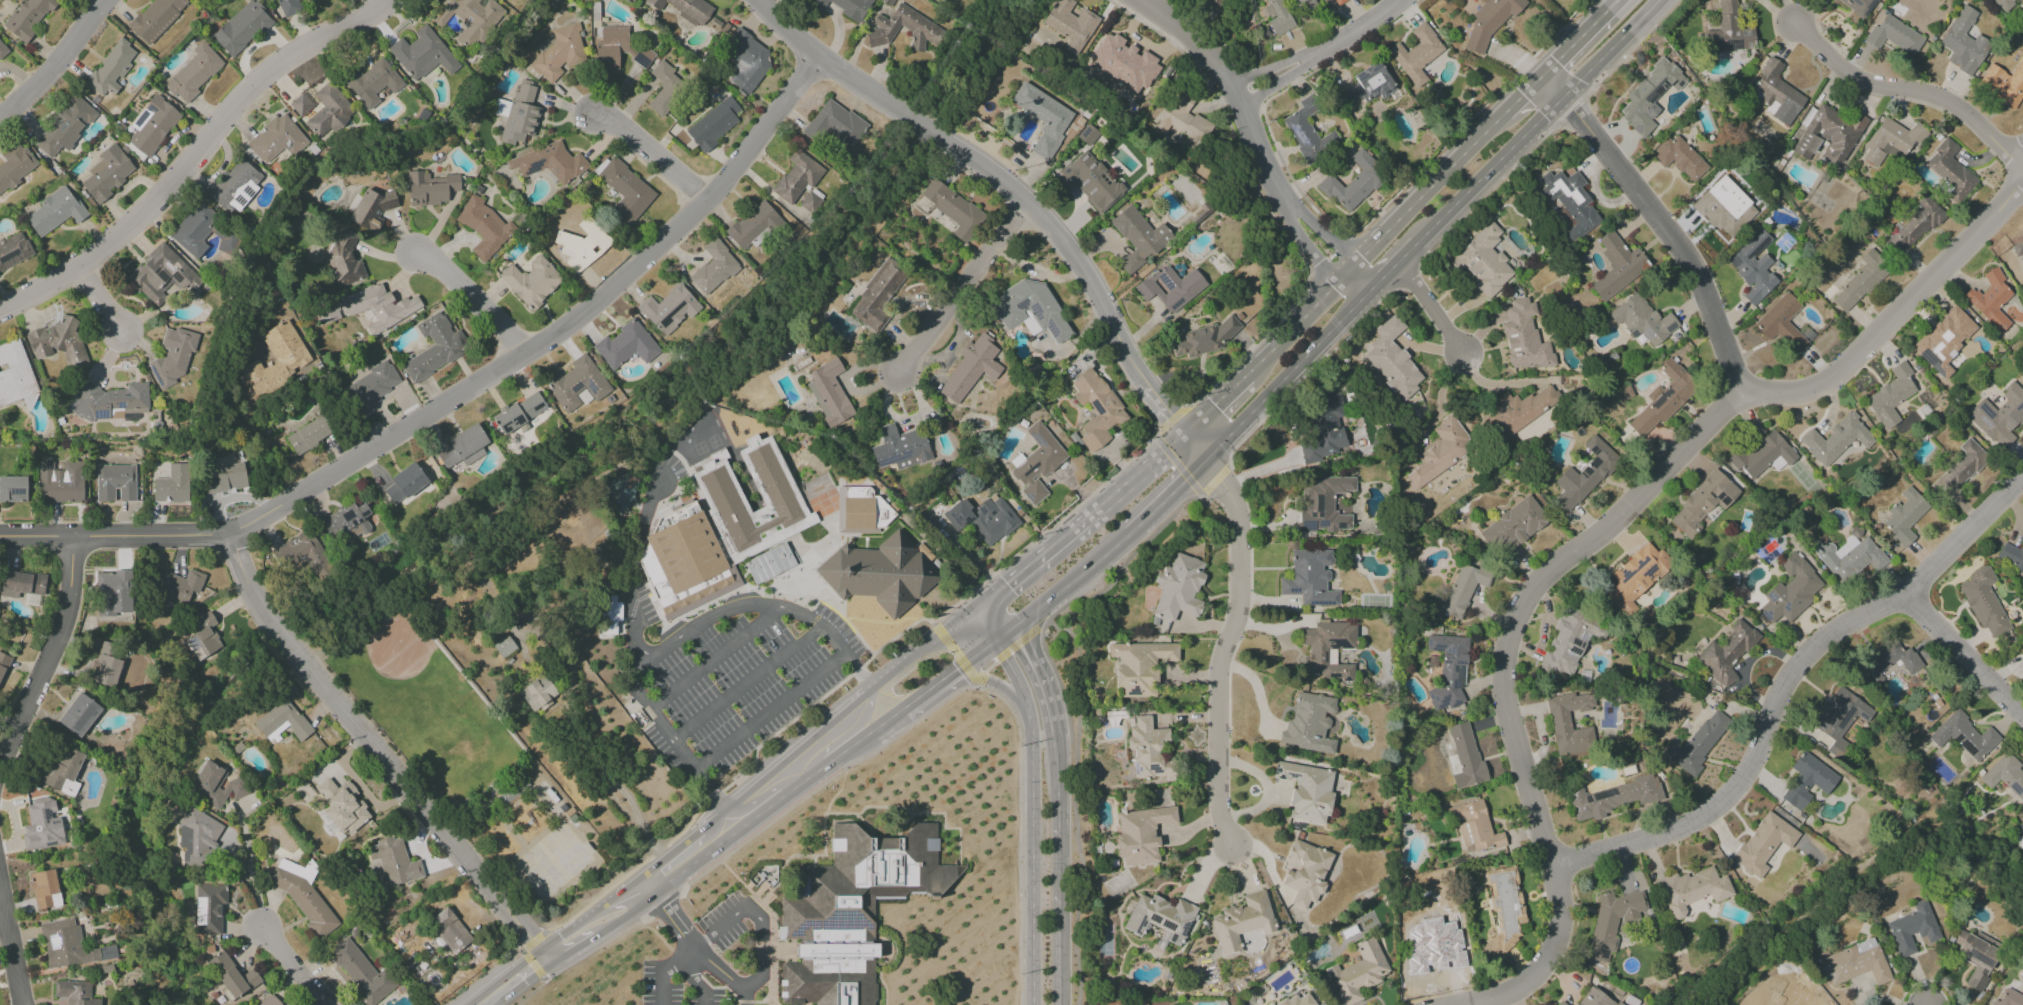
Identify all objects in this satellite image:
building: (1338, 1)
building: (2010, 2)
building: (1213, 3)
building: (1304, 3)
building: (290, 5)
building: (1858, 6)
building: (686, 9)
building: (27, 17)
building: (1278, 17)
building: (155, 18)
building: (469, 18)
building: (1489, 21)
building: (1070, 24)
building: (921, 27)
building: (241, 28)
building: (1728, 30)
rooftop solar panel: (1747, 32)
building: (1898, 35)
road: (1578, 38)
building: (1967, 41)
rooftop solar panel: (1736, 46)
road: (1629, 47)
building: (2, 49)
building: (617, 49)
road: (1609, 49)
road: (1320, 51)
building: (423, 54)
building: (1416, 54)
rooftop solar panel: (638, 59)
building: (746, 60)
building: (1125, 64)
road: (63, 66)
building: (111, 68)
building: (194, 72)
building: (372, 80)
road: (1230, 81)
building: (1368, 84)
building: (2008, 84)
building: (665, 87)
road: (1550, 87)
road: (1909, 89)
rooftop solar panel: (1658, 92)
building: (1774, 93)
road: (1523, 94)
building: (1649, 96)
building: (300, 104)
rooftop solar panel: (150, 107)
building: (328, 111)
building: (521, 114)
road: (1570, 114)
building: (1043, 118)
rooftop solar panel: (139, 119)
road: (1468, 120)
rooftop solar panel: (80, 123)
building: (712, 124)
building: (834, 124)
building: (152, 125)
building: (62, 126)
rooftop solar panel: (1635, 128)
rooftop solar panel: (1295, 129)
rooftop solar panel: (63, 131)
building: (1307, 132)
building: (1834, 133)
building: (1087, 135)
building: (1893, 137)
building: (276, 139)
rooftop solar panel: (1300, 140)
road: (654, 154)
building: (1679, 157)
road: (199, 158)
building: (548, 162)
building: (1952, 165)
building: (14, 166)
rooftop solar panel: (532, 166)
road: (1490, 172)
building: (106, 174)
building: (797, 177)
building: (1089, 182)
building: (1353, 183)
road: (1431, 186)
building: (234, 187)
building: (429, 188)
building: (624, 190)
road: (1485, 194)
road: (1019, 196)
building: (809, 202)
building: (1570, 202)
building: (1723, 205)
building: (372, 208)
building: (952, 209)
building: (54, 212)
road: (1318, 223)
building: (754, 225)
building: (1911, 226)
building: (483, 227)
building: (194, 229)
road: (1671, 236)
building: (1138, 238)
road: (1301, 239)
building: (580, 246)
building: (2017, 249)
building: (13, 250)
road: (1409, 254)
rooftop solar panel: (8, 256)
road: (1330, 256)
rooftop solar panel: (1749, 256)
building: (344, 261)
building: (1483, 261)
rooftop solar panel: (1734, 261)
building: (1618, 266)
building: (1755, 266)
rooftop solar panel: (169, 268)
building: (713, 268)
rooftop solar panel: (157, 270)
road: (1348, 271)
road: (1369, 271)
road: (1391, 272)
building: (161, 275)
road: (1407, 275)
rooftop solar panel: (163, 276)
building: (531, 281)
building: (1861, 282)
building: (1170, 287)
road: (962, 292)
road: (1349, 293)
road: (1371, 293)
building: (877, 295)
building: (1993, 300)
road: (477, 302)
road: (103, 305)
building: (377, 307)
building: (669, 309)
building: (1031, 309)
road: (1434, 310)
rooftop solar panel: (1034, 311)
building: (1642, 320)
building: (1783, 324)
road: (1293, 328)
rooftop solar panel: (1050, 329)
rooftop solar panel: (1647, 333)
building: (1205, 338)
building: (1523, 338)
building: (58, 342)
building: (1944, 343)
road: (1256, 344)
building: (625, 345)
building: (434, 348)
building: (173, 356)
rooftop solar panel: (1926, 357)
building: (276, 359)
building: (1392, 359)
building: (969, 369)
road: (1306, 372)
building: (16, 375)
building: (577, 383)
road: (1283, 383)
road: (721, 384)
building: (370, 387)
rooftop solar panel: (576, 387)
rooftop solar panel: (591, 388)
building: (829, 392)
building: (1890, 396)
road: (457, 398)
rooftop solar panel: (1662, 398)
building: (1662, 399)
building: (111, 401)
road: (1217, 404)
rooftop solar panel: (2021, 404)
rooftop solar panel: (121, 405)
rooftop solar panel: (1093, 408)
building: (1096, 409)
building: (1517, 410)
rooftop solar panel: (1985, 411)
building: (518, 412)
rooftop solar panel: (101, 415)
building: (2002, 416)
rooftop solar panel: (1983, 421)
building: (1324, 428)
building: (1841, 433)
traffic signals: (1187, 435)
building: (307, 436)
rooftop solar panel: (1040, 439)
rooftop solar panel: (1036, 440)
building: (463, 447)
building: (899, 448)
building: (1439, 451)
building: (1759, 457)
rooftop solar panel: (885, 459)
building: (1037, 463)
road: (1175, 463)
traffic signals: (1207, 463)
building: (1960, 468)
parking lot: (677, 469)
building: (1584, 474)
building: (224, 478)
road: (1135, 478)
building: (60, 482)
building: (115, 482)
building: (404, 483)
building: (172, 485)
building: (13, 489)
building: (621, 489)
building: (776, 490)
rooftop solar panel: (13, 492)
road: (1167, 498)
rooftop solar panel: (1027, 499)
building: (1702, 502)
building: (1322, 505)
building: (863, 512)
building: (1903, 517)
building: (983, 518)
building: (345, 523)
rooftop solar panel: (1321, 524)
rooftop solar panel: (1308, 526)
building: (1512, 526)
road: (1044, 532)
road: (1604, 532)
building: (301, 554)
building: (1849, 557)
building: (2012, 557)
road: (1037, 560)
building: (770, 563)
building: (684, 564)
building: (881, 574)
building: (1636, 576)
building: (1309, 578)
building: (21, 584)
traffic signals: (1010, 584)
road: (1073, 585)
building: (176, 586)
building: (1178, 588)
building: (1463, 588)
building: (1791, 590)
rooftop solar panel: (1295, 591)
building: (112, 593)
road: (1073, 599)
building: (1983, 602)
rooftop solar panel: (1321, 603)
parking lot: (646, 604)
road: (760, 605)
road: (981, 607)
building: (609, 615)
road: (1004, 618)
road: (859, 619)
road: (1058, 627)
building: (870, 629)
road: (985, 633)
road: (635, 634)
building: (203, 637)
building: (1569, 641)
rooftop solar panel: (194, 644)
road: (1008, 644)
rooftop solar panel: (1575, 644)
building: (503, 646)
rooftop solar panel: (1581, 647)
park: (396, 648)
building: (1327, 649)
road: (1010, 650)
traffic signals: (1025, 650)
rooftop solar panel: (1576, 653)
building: (1725, 653)
road: (956, 654)
road: (1223, 654)
road: (717, 656)
road: (1965, 660)
building: (1887, 662)
building: (3, 664)
road: (50, 664)
building: (106, 666)
building: (1139, 666)
road: (970, 670)
building: (1448, 671)
traffic signals: (961, 677)
road: (1015, 677)
road: (988, 679)
road: (1054, 682)
road: (746, 683)
road: (1040, 685)
parking lot: (742, 688)
road: (1788, 689)
rooftop solar panel: (1133, 692)
building: (537, 693)
rooftop solar panel: (1441, 693)
rooftop solar panel: (1434, 699)
road: (925, 703)
rooftop solar panel: (1445, 703)
road: (770, 712)
building: (79, 714)
park: (434, 714)
rooftop solar panel: (1845, 715)
rooftop solar panel: (1863, 716)
road: (1078, 717)
building: (1838, 718)
building: (282, 721)
building: (1308, 723)
road: (837, 724)
building: (1569, 724)
building: (1963, 736)
road: (871, 742)
building: (1697, 743)
road: (677, 746)
building: (1148, 751)
road: (377, 752)
building: (1465, 757)
park: (471, 766)
rooftop solar panel: (1154, 770)
building: (62, 772)
road: (744, 773)
rooftop solar panel: (1292, 775)
building: (2005, 775)
building: (1807, 781)
road: (824, 782)
building: (214, 785)
building: (1306, 793)
rooftop solar panel: (1605, 793)
building: (509, 794)
building: (1612, 797)
building: (342, 806)
road: (853, 814)
road: (1055, 822)
road: (865, 824)
road: (903, 824)
building: (42, 825)
building: (1474, 827)
road: (746, 831)
building: (1141, 834)
building: (197, 836)
building: (2018, 837)
building: (1763, 843)
road: (1033, 856)
road: (674, 857)
building: (394, 861)
park: (553, 861)
road: (251, 866)
building: (1304, 873)
road: (733, 876)
building: (44, 889)
building: (1691, 890)
road: (758, 892)
road: (0, 893)
building: (303, 895)
road: (663, 905)
building: (208, 908)
building: (1503, 909)
building: (853, 911)
road: (593, 915)
road: (626, 915)
road: (759, 919)
building: (1161, 919)
rooftop solar panel: (1155, 920)
building: (1242, 921)
building: (1611, 921)
parking lot: (723, 923)
rooftop solar panel: (845, 924)
rooftop solar panel: (810, 925)
rooftop solar panel: (1138, 925)
rooftop solar panel: (1168, 926)
rooftop solar panel: (1186, 927)
building: (1912, 928)
building: (449, 930)
road: (692, 939)
building: (1250, 941)
rooftop solar panel: (53, 942)
road: (580, 942)
building: (68, 945)
road: (11, 946)
road: (773, 946)
road: (596, 947)
road: (521, 951)
road: (554, 952)
rooftop solar panel: (1602, 953)
road: (1056, 956)
building: (1976, 956)
building: (1853, 963)
road: (296, 966)
road: (666, 969)
building: (361, 972)
road: (523, 972)
building: (1357, 973)
building: (232, 975)
road: (697, 979)
road: (1025, 981)
rooftop solar panel: (1333, 982)
road: (885, 986)
parking lot: (681, 987)
road: (530, 991)
building: (75, 993)
building: (1793, 995)
road: (492, 996)
building: (1595, 997)
road: (745, 999)
building: (2008, 999)
building: (1296, 1000)
building: (269, 1001)
road: (776, 1002)
building: (1561, 1003)
road: (803, 1004)

